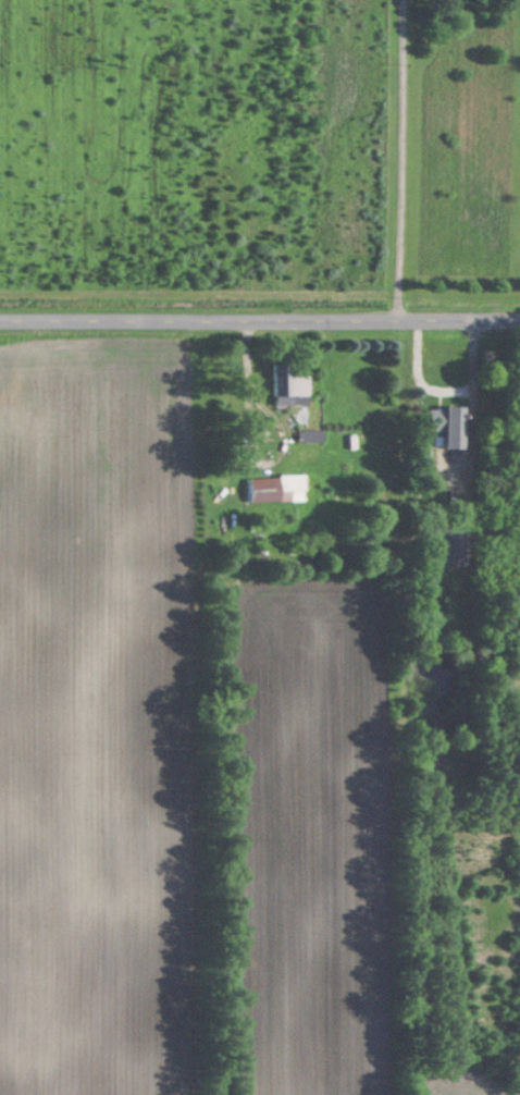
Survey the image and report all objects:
road: (396, 159)
road: (260, 320)
building: (280, 385)
building: (441, 428)
road: (244, 445)
building: (269, 489)
building: (444, 547)

